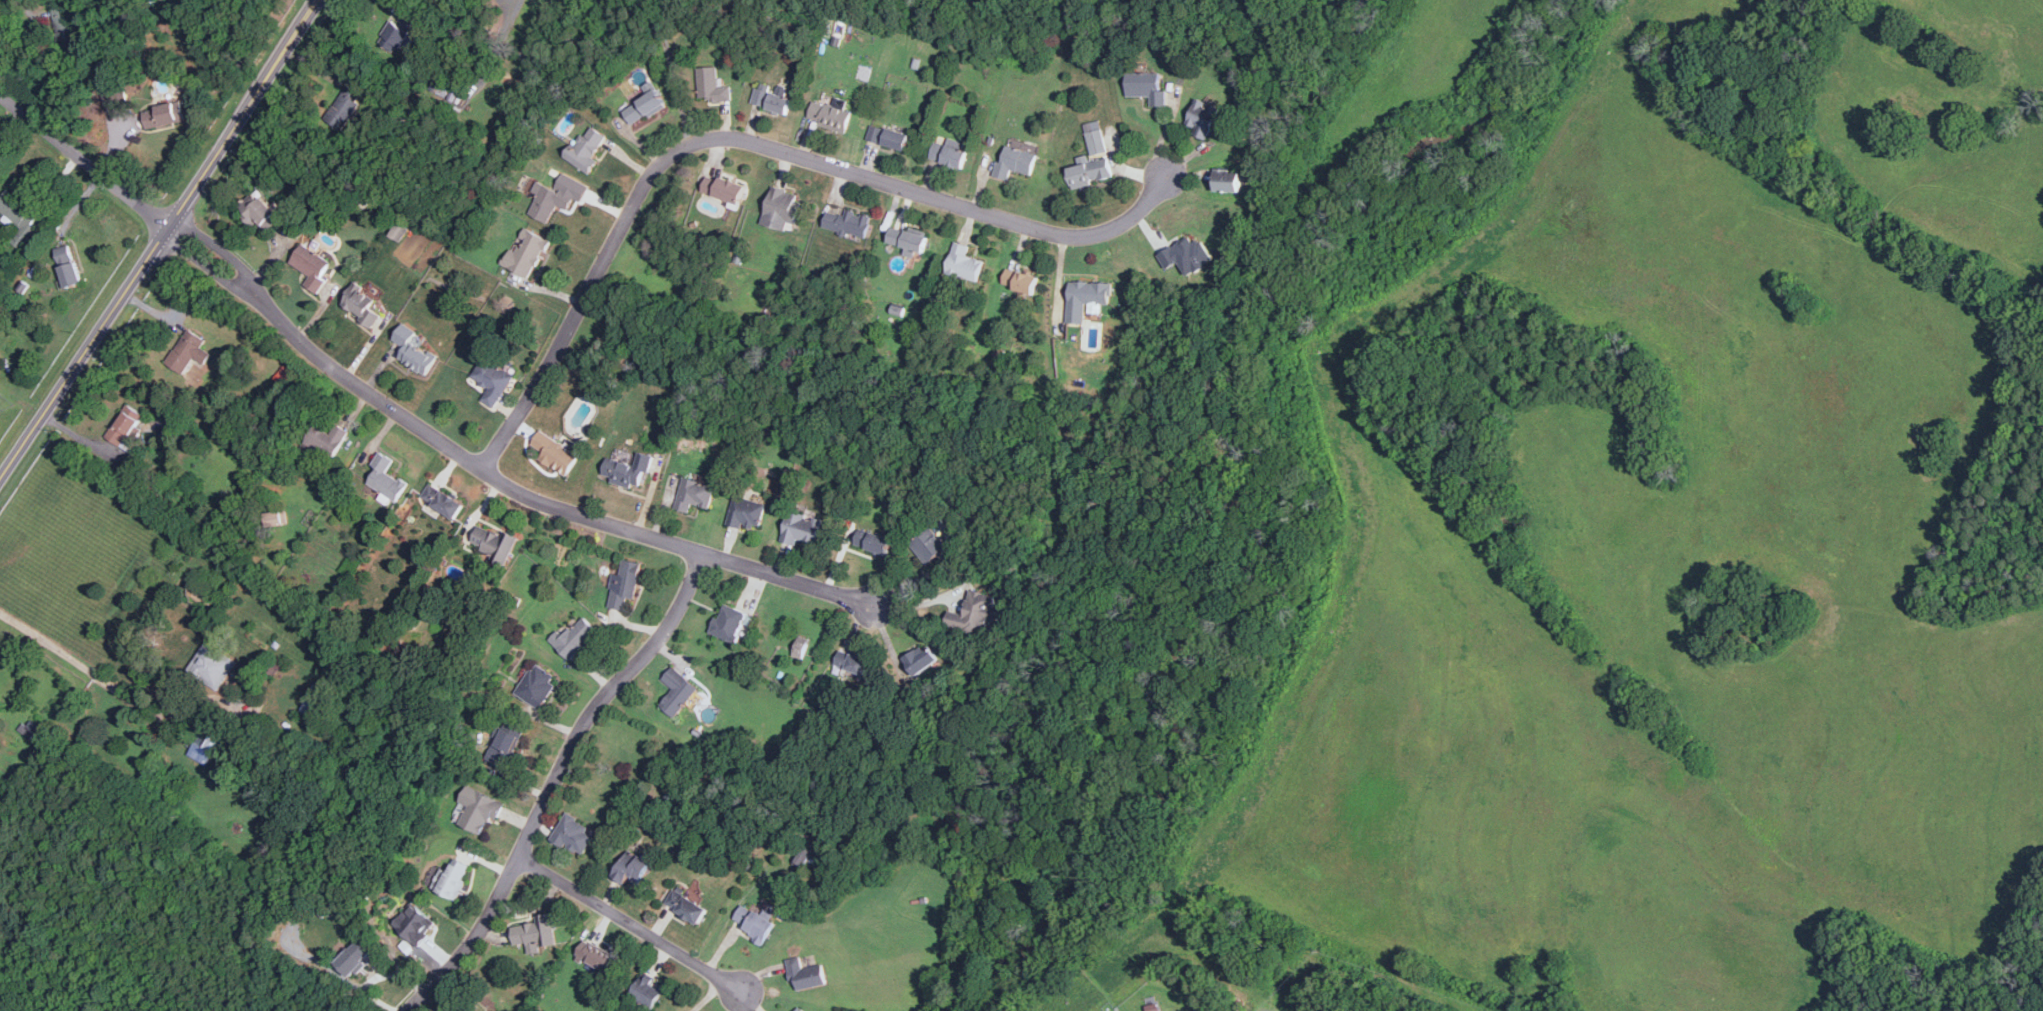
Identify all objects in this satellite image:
building: (69, 27)
building: (400, 32)
building: (712, 86)
building: (1147, 87)
building: (114, 95)
building: (772, 100)
building: (346, 104)
building: (644, 107)
road: (242, 114)
building: (830, 115)
building: (163, 117)
building: (1202, 118)
building: (888, 137)
building: (1095, 138)
road: (748, 142)
building: (587, 148)
building: (949, 154)
road: (82, 161)
building: (1016, 161)
building: (1090, 172)
building: (1228, 182)
building: (723, 189)
building: (549, 202)
building: (782, 209)
building: (259, 211)
building: (21, 214)
building: (846, 222)
building: (908, 241)
road: (220, 248)
building: (526, 253)
building: (1189, 253)
road: (211, 260)
building: (69, 262)
building: (964, 262)
building: (311, 266)
building: (1020, 282)
building: (1088, 299)
building: (360, 305)
building: (186, 351)
building: (414, 351)
road: (83, 352)
building: (492, 381)
building: (125, 429)
building: (326, 440)
building: (555, 454)
building: (627, 471)
building: (385, 479)
building: (694, 494)
road: (537, 501)
building: (442, 502)
building: (746, 512)
building: (276, 518)
building: (801, 528)
building: (873, 541)
building: (493, 544)
building: (930, 545)
building: (626, 583)
building: (975, 613)
building: (731, 624)
building: (574, 637)
building: (921, 658)
building: (853, 662)
road: (82, 664)
building: (212, 665)
building: (537, 685)
building: (678, 690)
building: (317, 701)
building: (505, 744)
building: (203, 748)
road: (553, 781)
building: (478, 808)
building: (574, 834)
building: (632, 867)
building: (452, 877)
building: (687, 904)
building: (756, 922)
building: (413, 923)
road: (629, 923)
building: (536, 932)
building: (596, 956)
building: (354, 957)
building: (806, 974)
building: (647, 990)
road: (708, 995)
building: (800, 1009)
building: (493, 1010)

